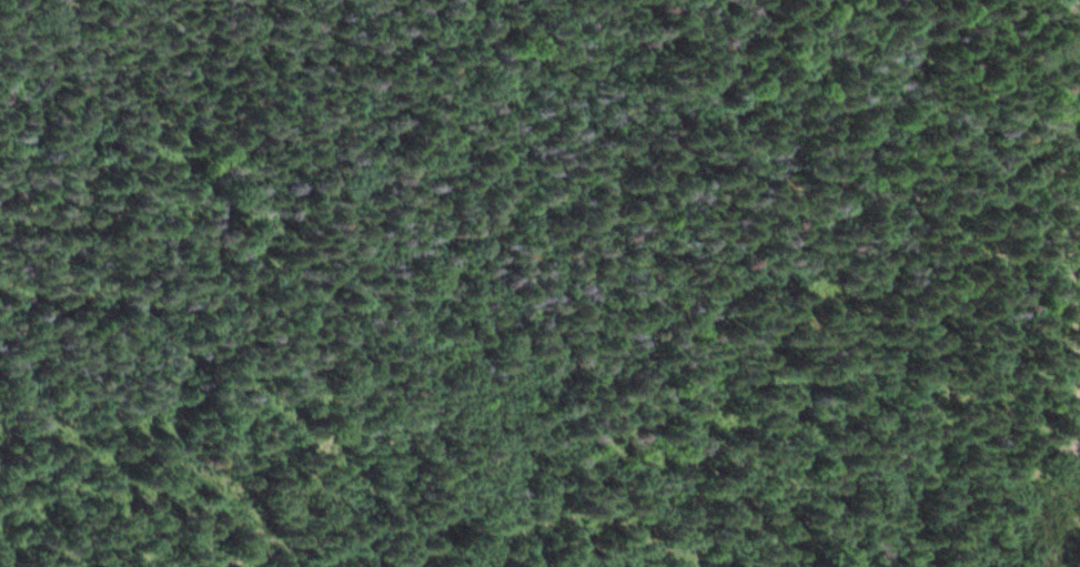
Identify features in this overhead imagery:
road: (162, 69)
road: (1076, 209)
road: (239, 557)
road: (61, 566)

